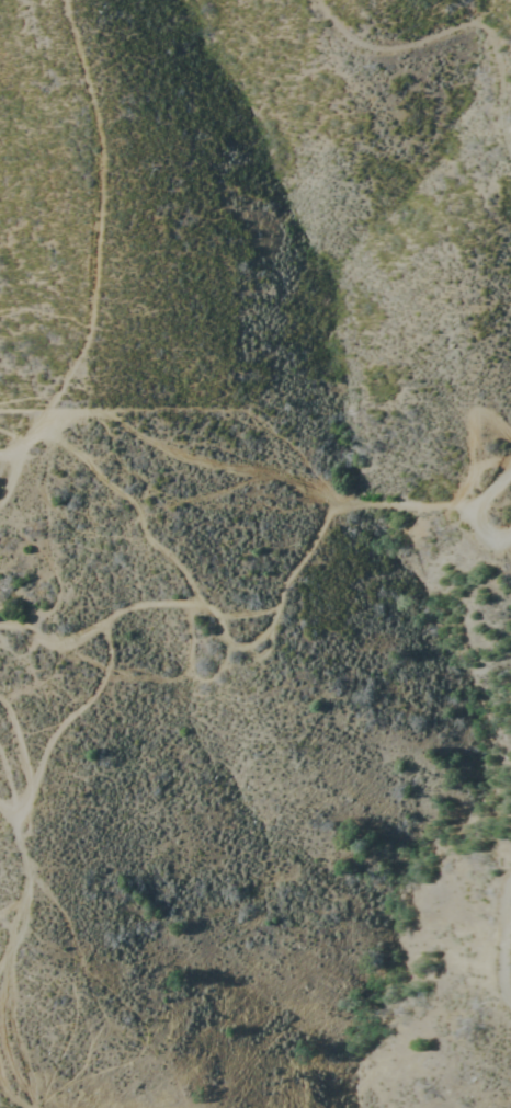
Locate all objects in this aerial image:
road: (485, 507)
road: (174, 613)
road: (10, 909)
road: (504, 941)

